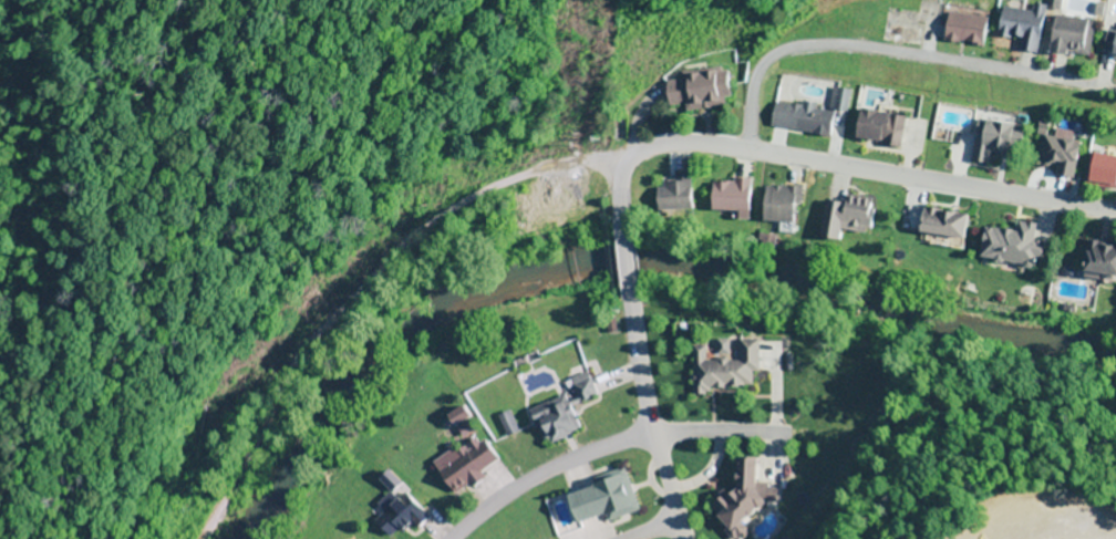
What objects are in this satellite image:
building: (1017, 25)
building: (901, 27)
building: (961, 29)
building: (1067, 37)
road: (870, 43)
building: (1107, 45)
building: (695, 90)
building: (809, 115)
building: (881, 128)
building: (991, 143)
building: (1056, 153)
building: (1100, 172)
road: (849, 175)
building: (671, 196)
building: (727, 196)
building: (778, 204)
building: (845, 217)
building: (940, 225)
road: (623, 234)
building: (1013, 246)
river: (630, 251)
building: (1098, 261)
road: (637, 350)
building: (725, 369)
building: (561, 413)
building: (513, 423)
building: (473, 463)
road: (554, 478)
road: (666, 491)
building: (597, 499)
building: (737, 499)
building: (410, 516)
road: (663, 532)
road: (1113, 538)

